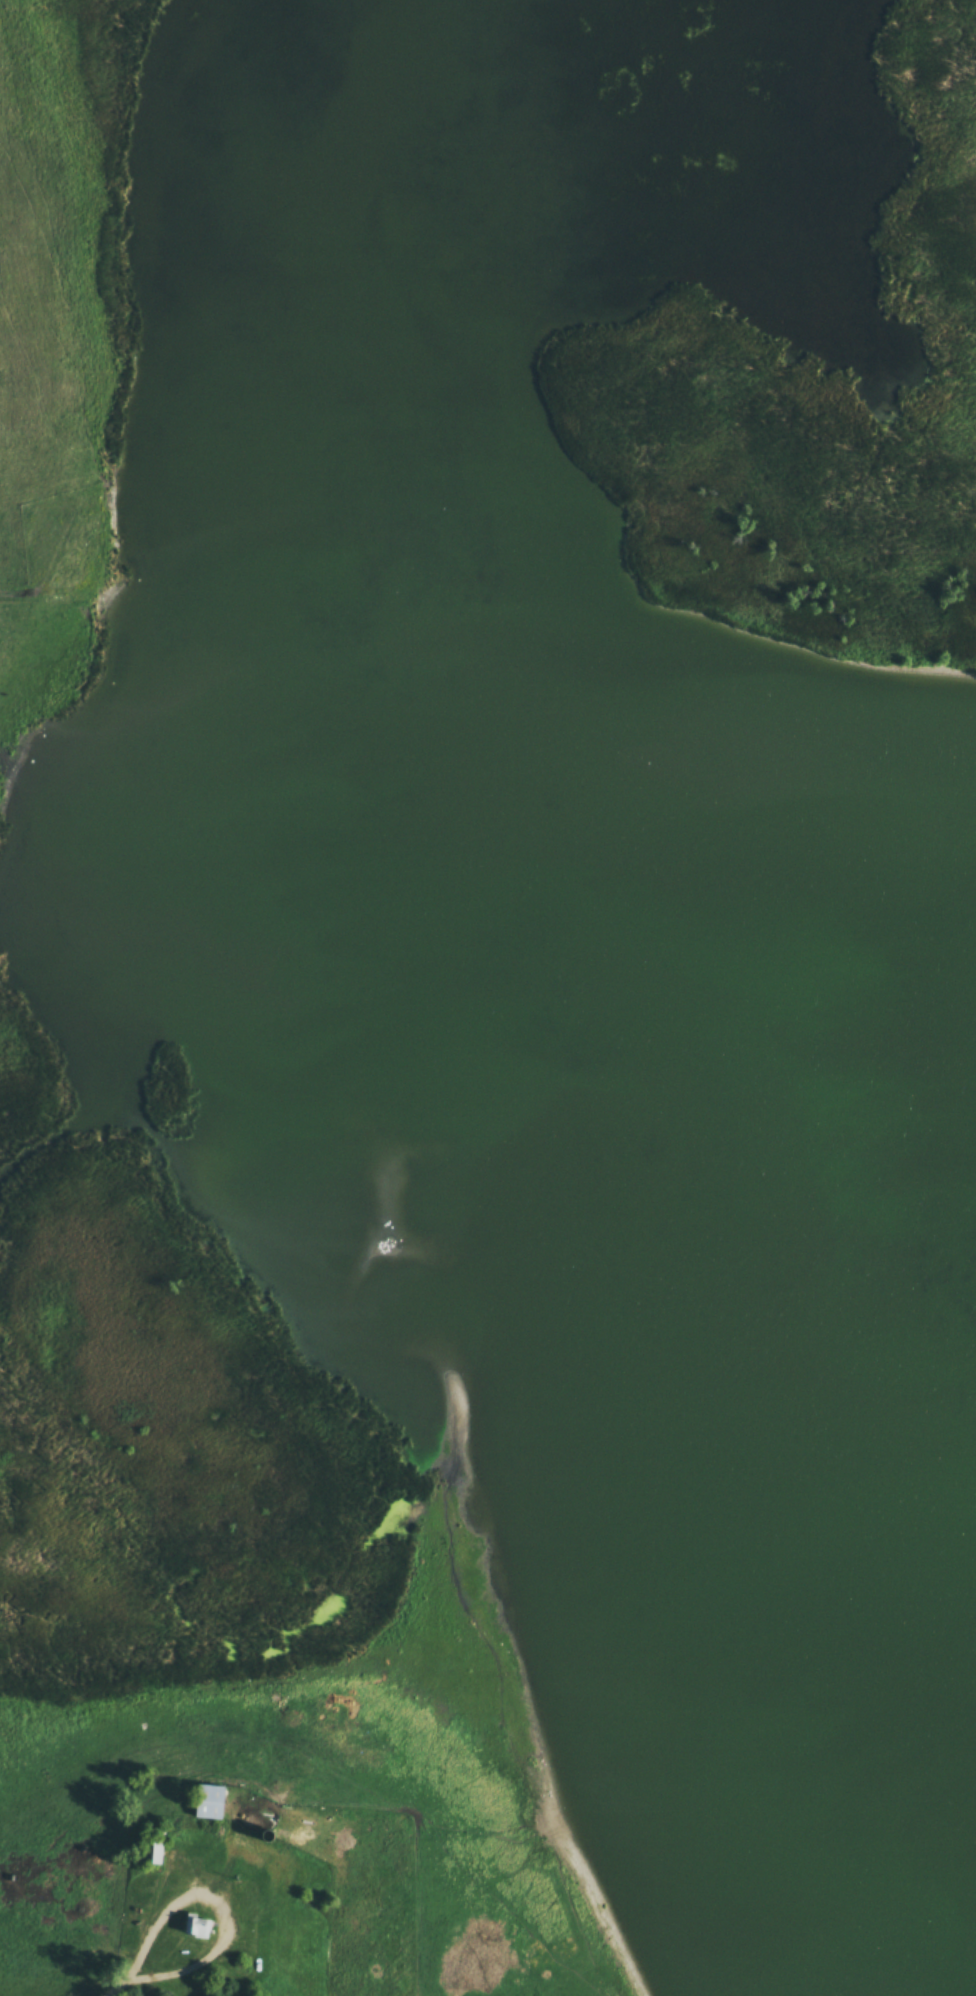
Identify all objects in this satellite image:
building: (207, 1803)
building: (152, 1853)
road: (193, 1896)
building: (197, 1928)
road: (123, 1987)

